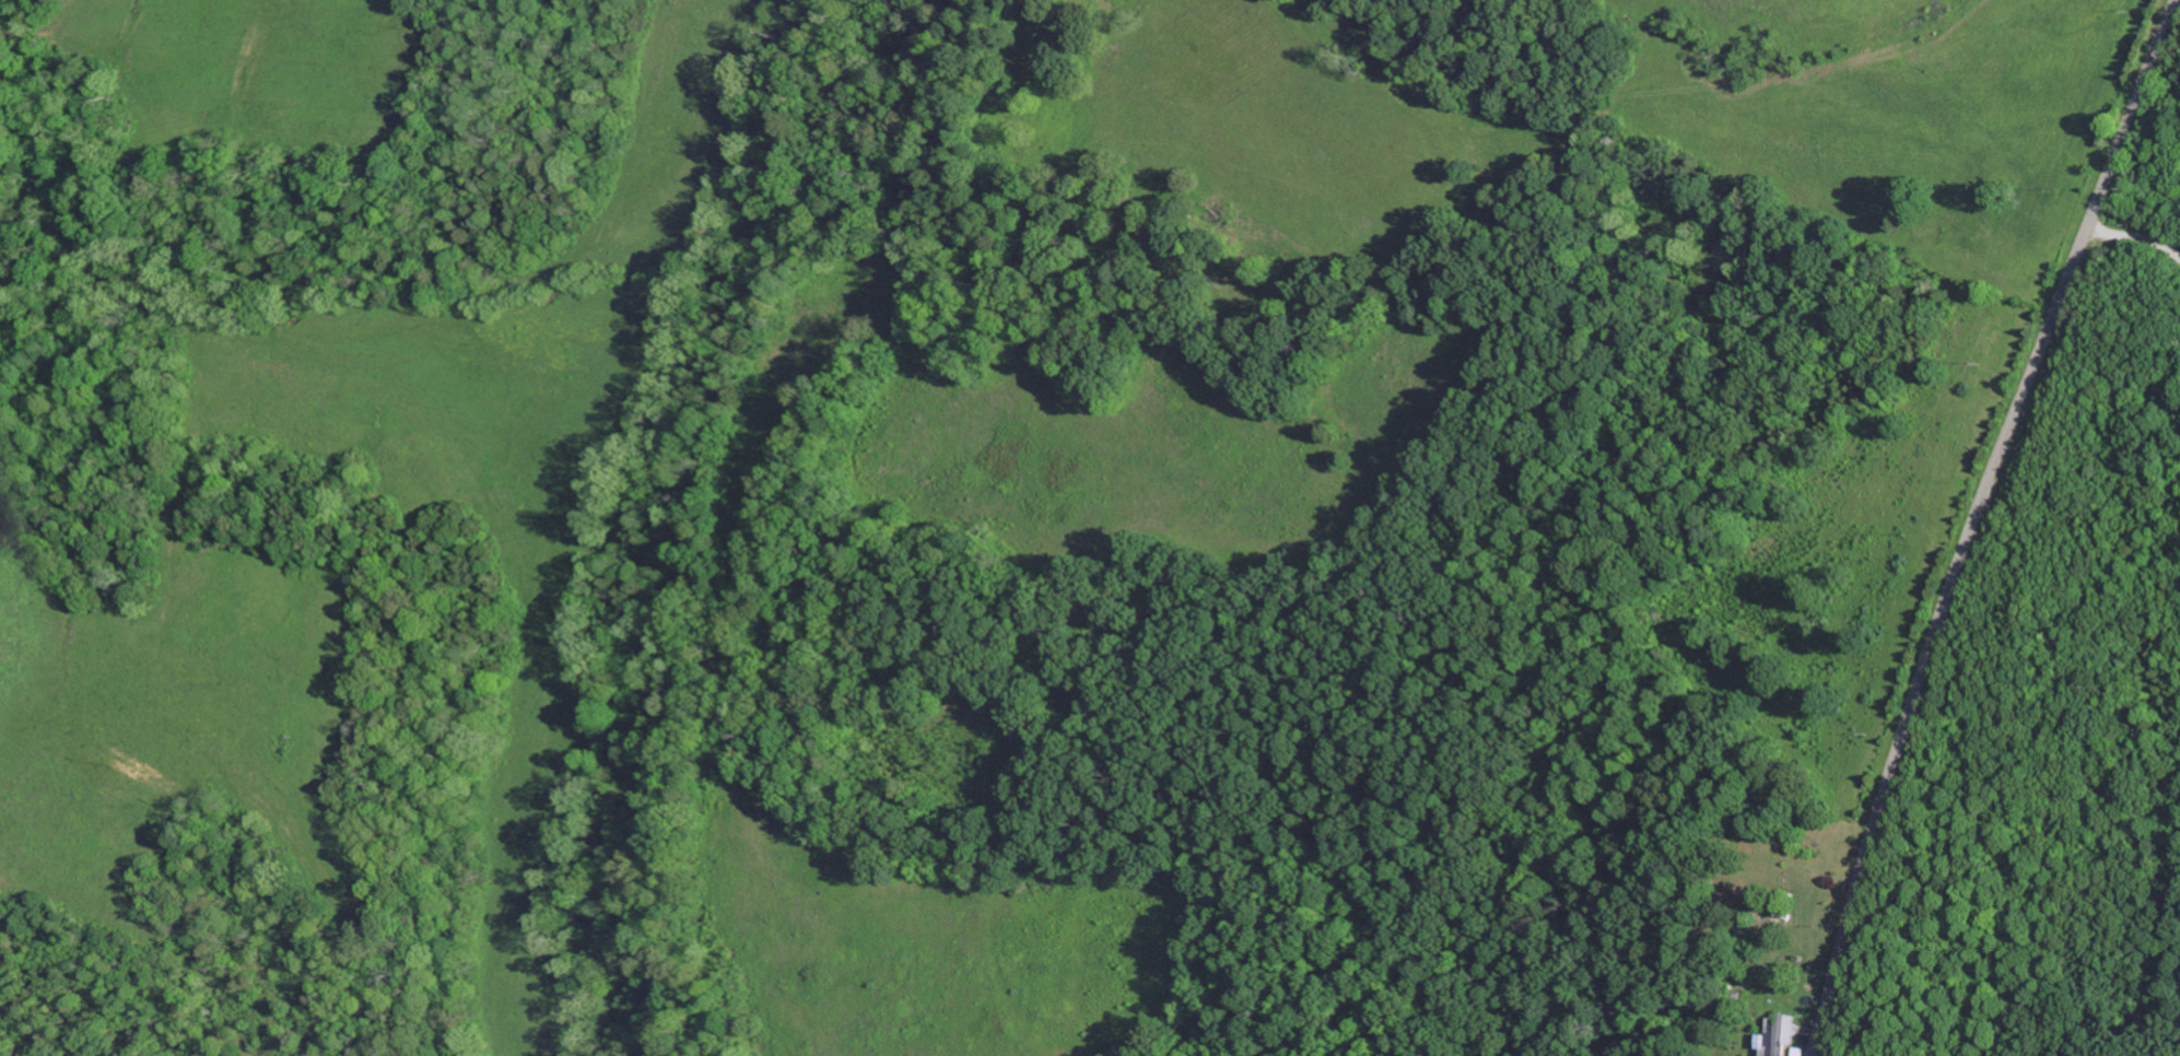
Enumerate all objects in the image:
road: (1976, 520)
building: (1771, 1036)

